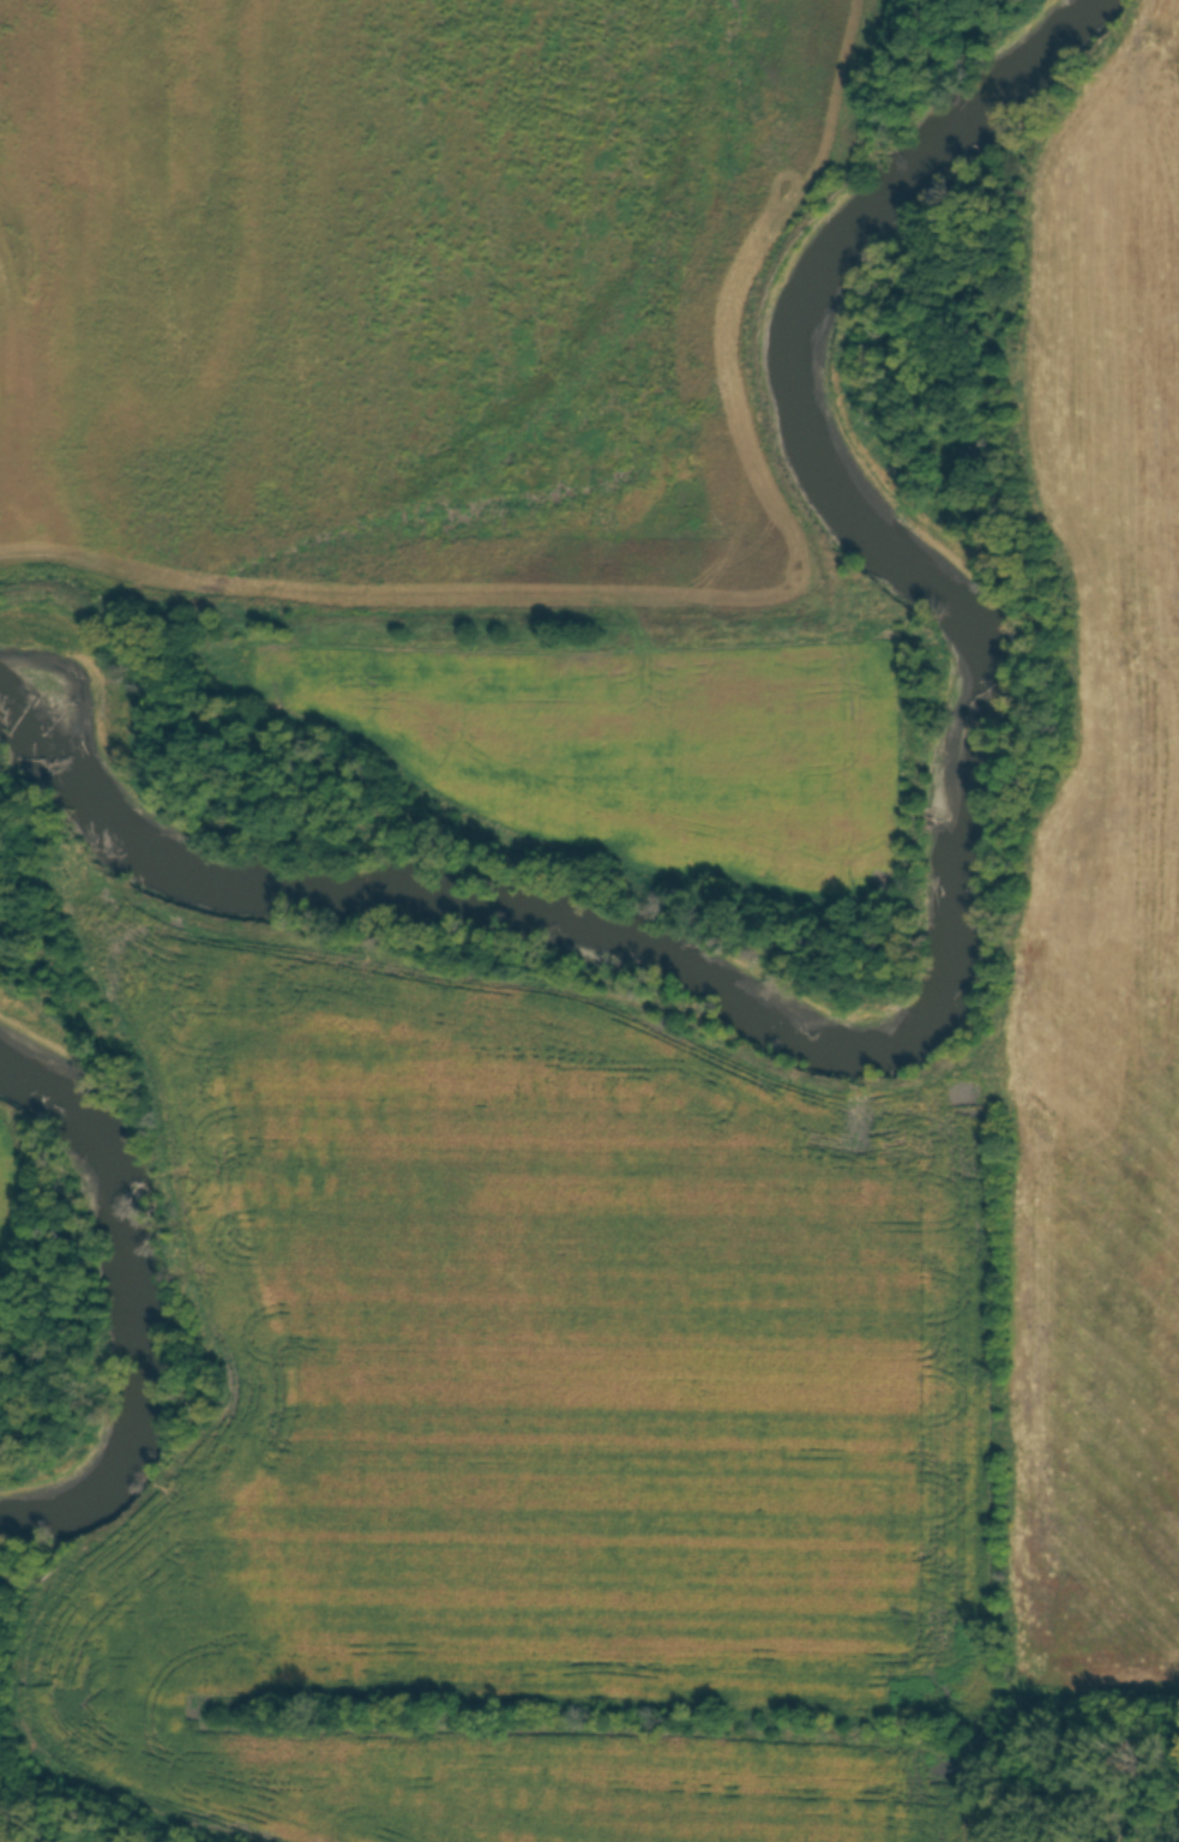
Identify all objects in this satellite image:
river: (958, 960)
river: (127, 1295)

